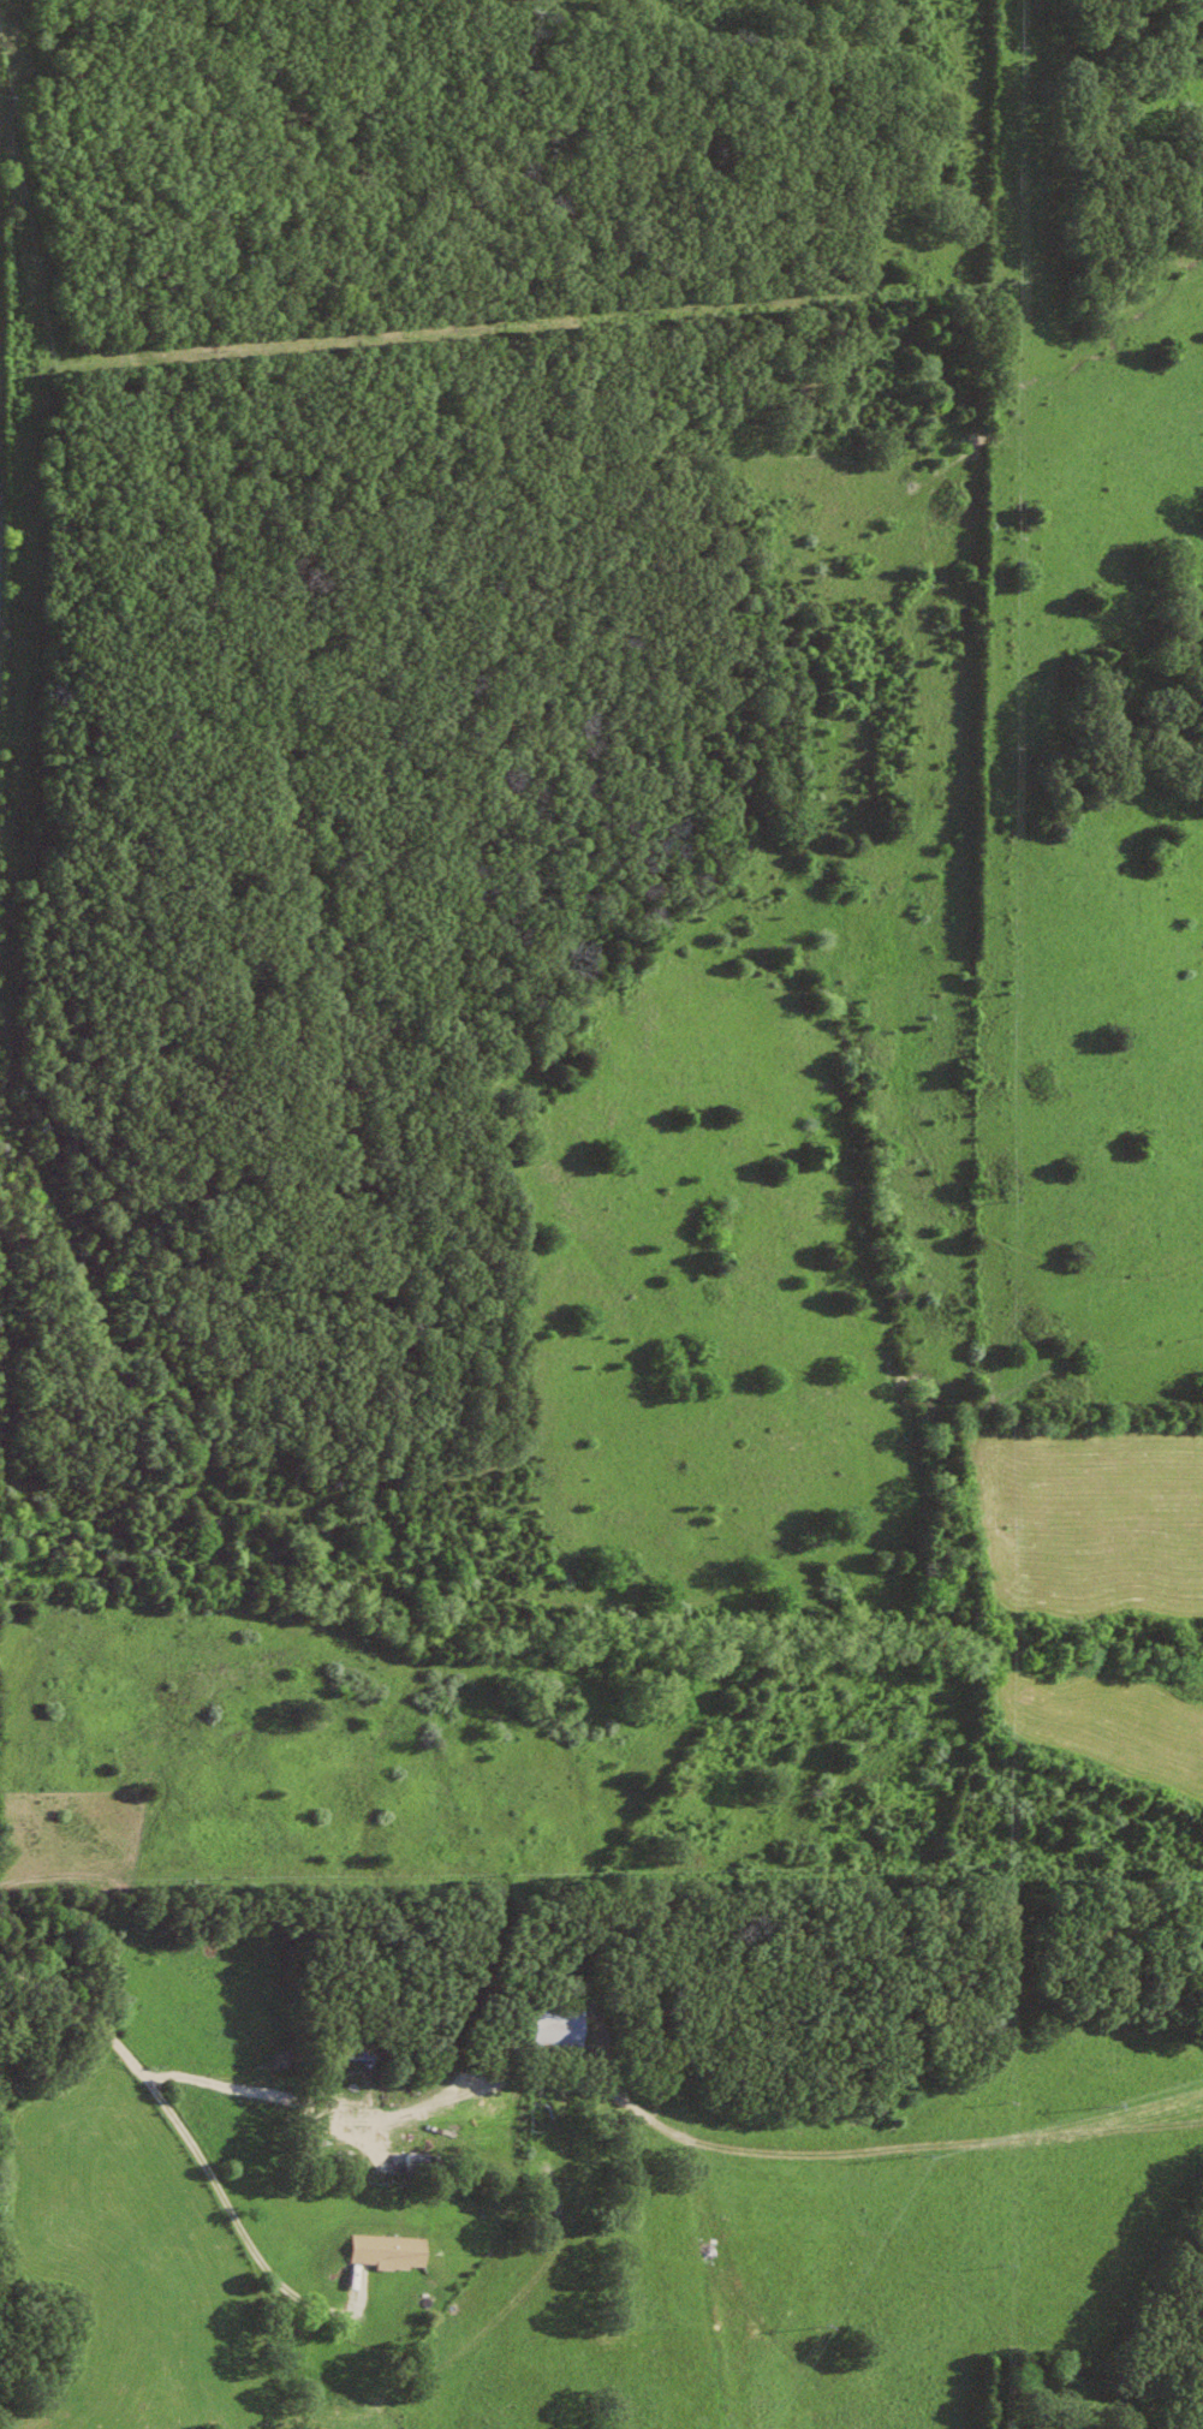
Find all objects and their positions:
building: (371, 2048)
road: (255, 2095)
road: (244, 2238)
building: (389, 2251)

